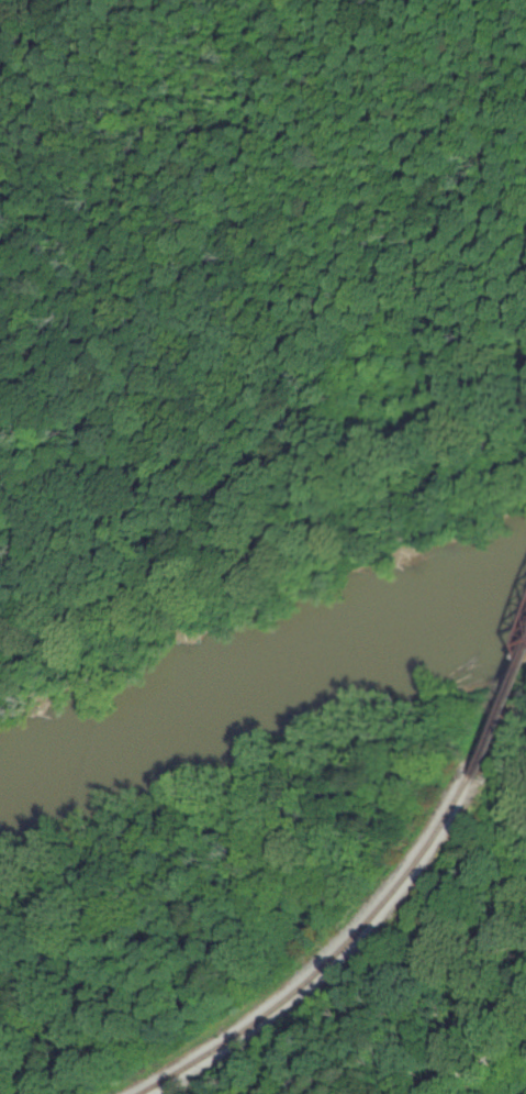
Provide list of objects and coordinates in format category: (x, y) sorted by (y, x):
river: (255, 656)
railway: (500, 708)
railway: (322, 966)
road: (525, 1041)
road: (413, 1079)

